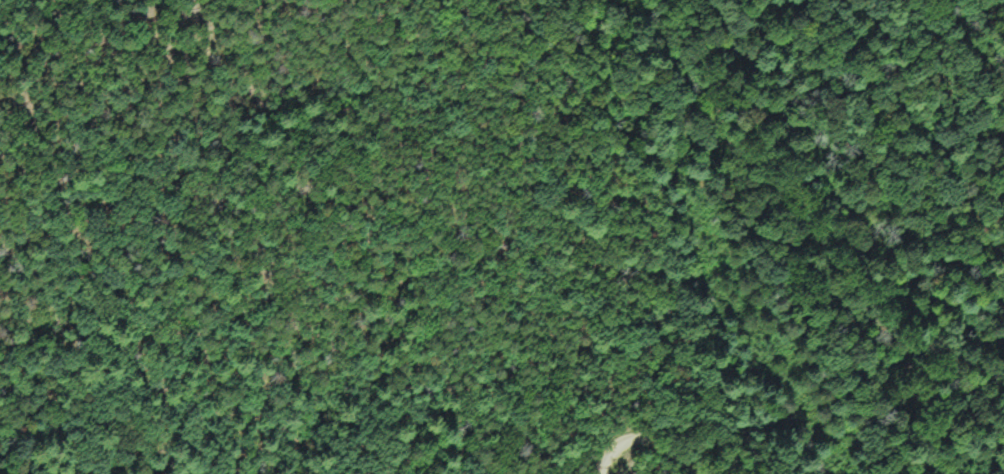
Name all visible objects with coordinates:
road: (637, 436)

